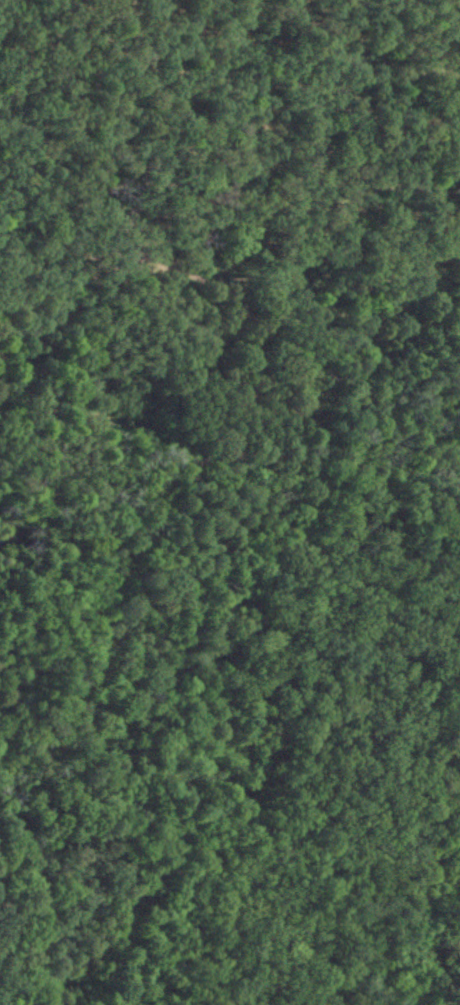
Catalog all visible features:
road: (82, 289)
road: (292, 345)
road: (441, 429)

